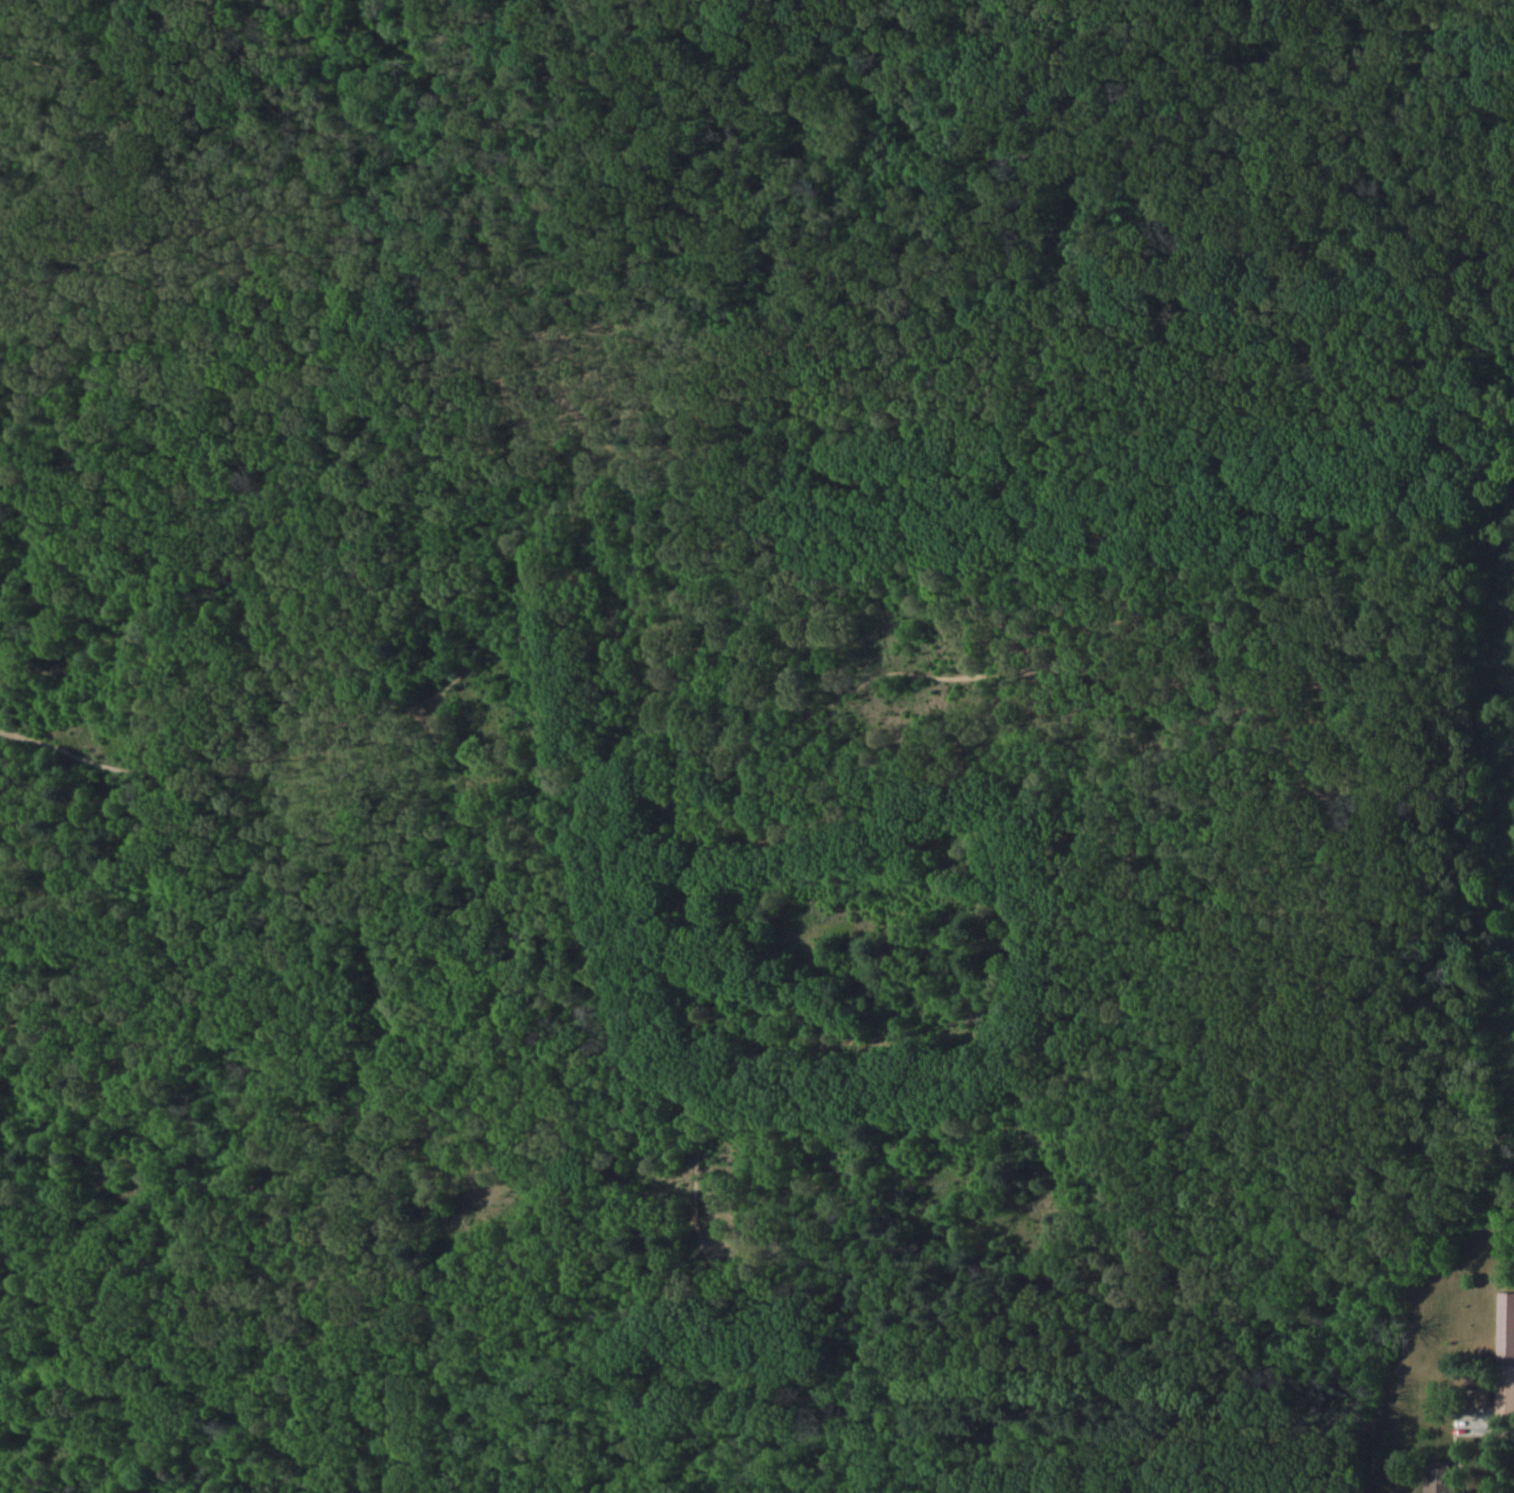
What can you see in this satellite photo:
road: (1106, 129)
road: (353, 137)
road: (754, 360)
road: (1210, 623)
road: (977, 677)
road: (438, 716)
road: (271, 750)
road: (67, 753)
road: (1323, 885)
road: (614, 1052)
road: (1321, 1265)
building: (1507, 1349)
road: (1498, 1422)

